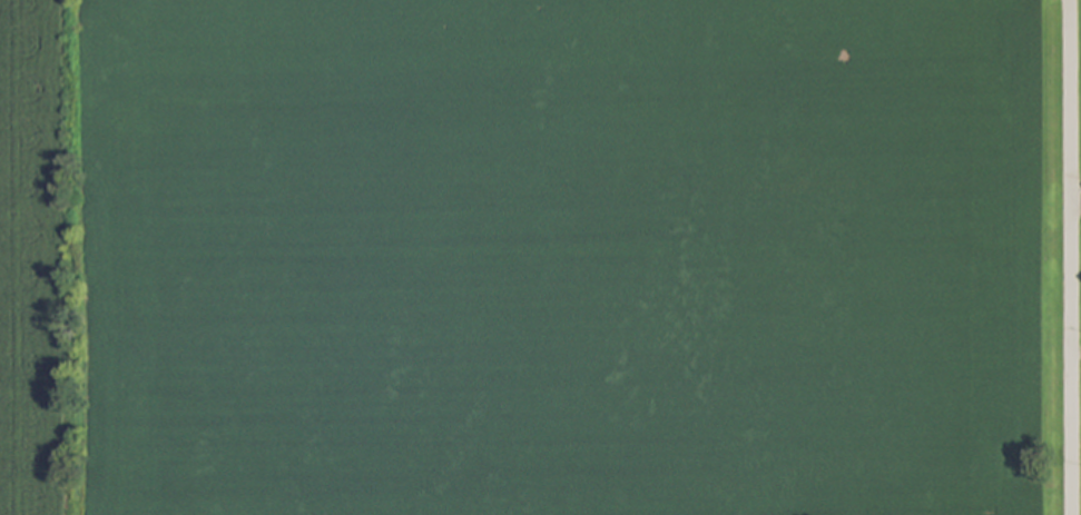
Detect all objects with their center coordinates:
road: (1061, 257)

